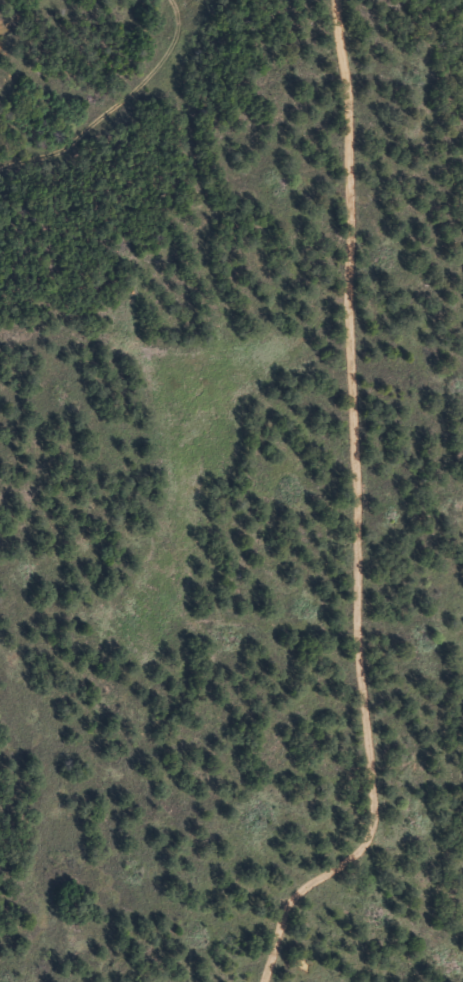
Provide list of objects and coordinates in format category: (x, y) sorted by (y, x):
road: (357, 514)

